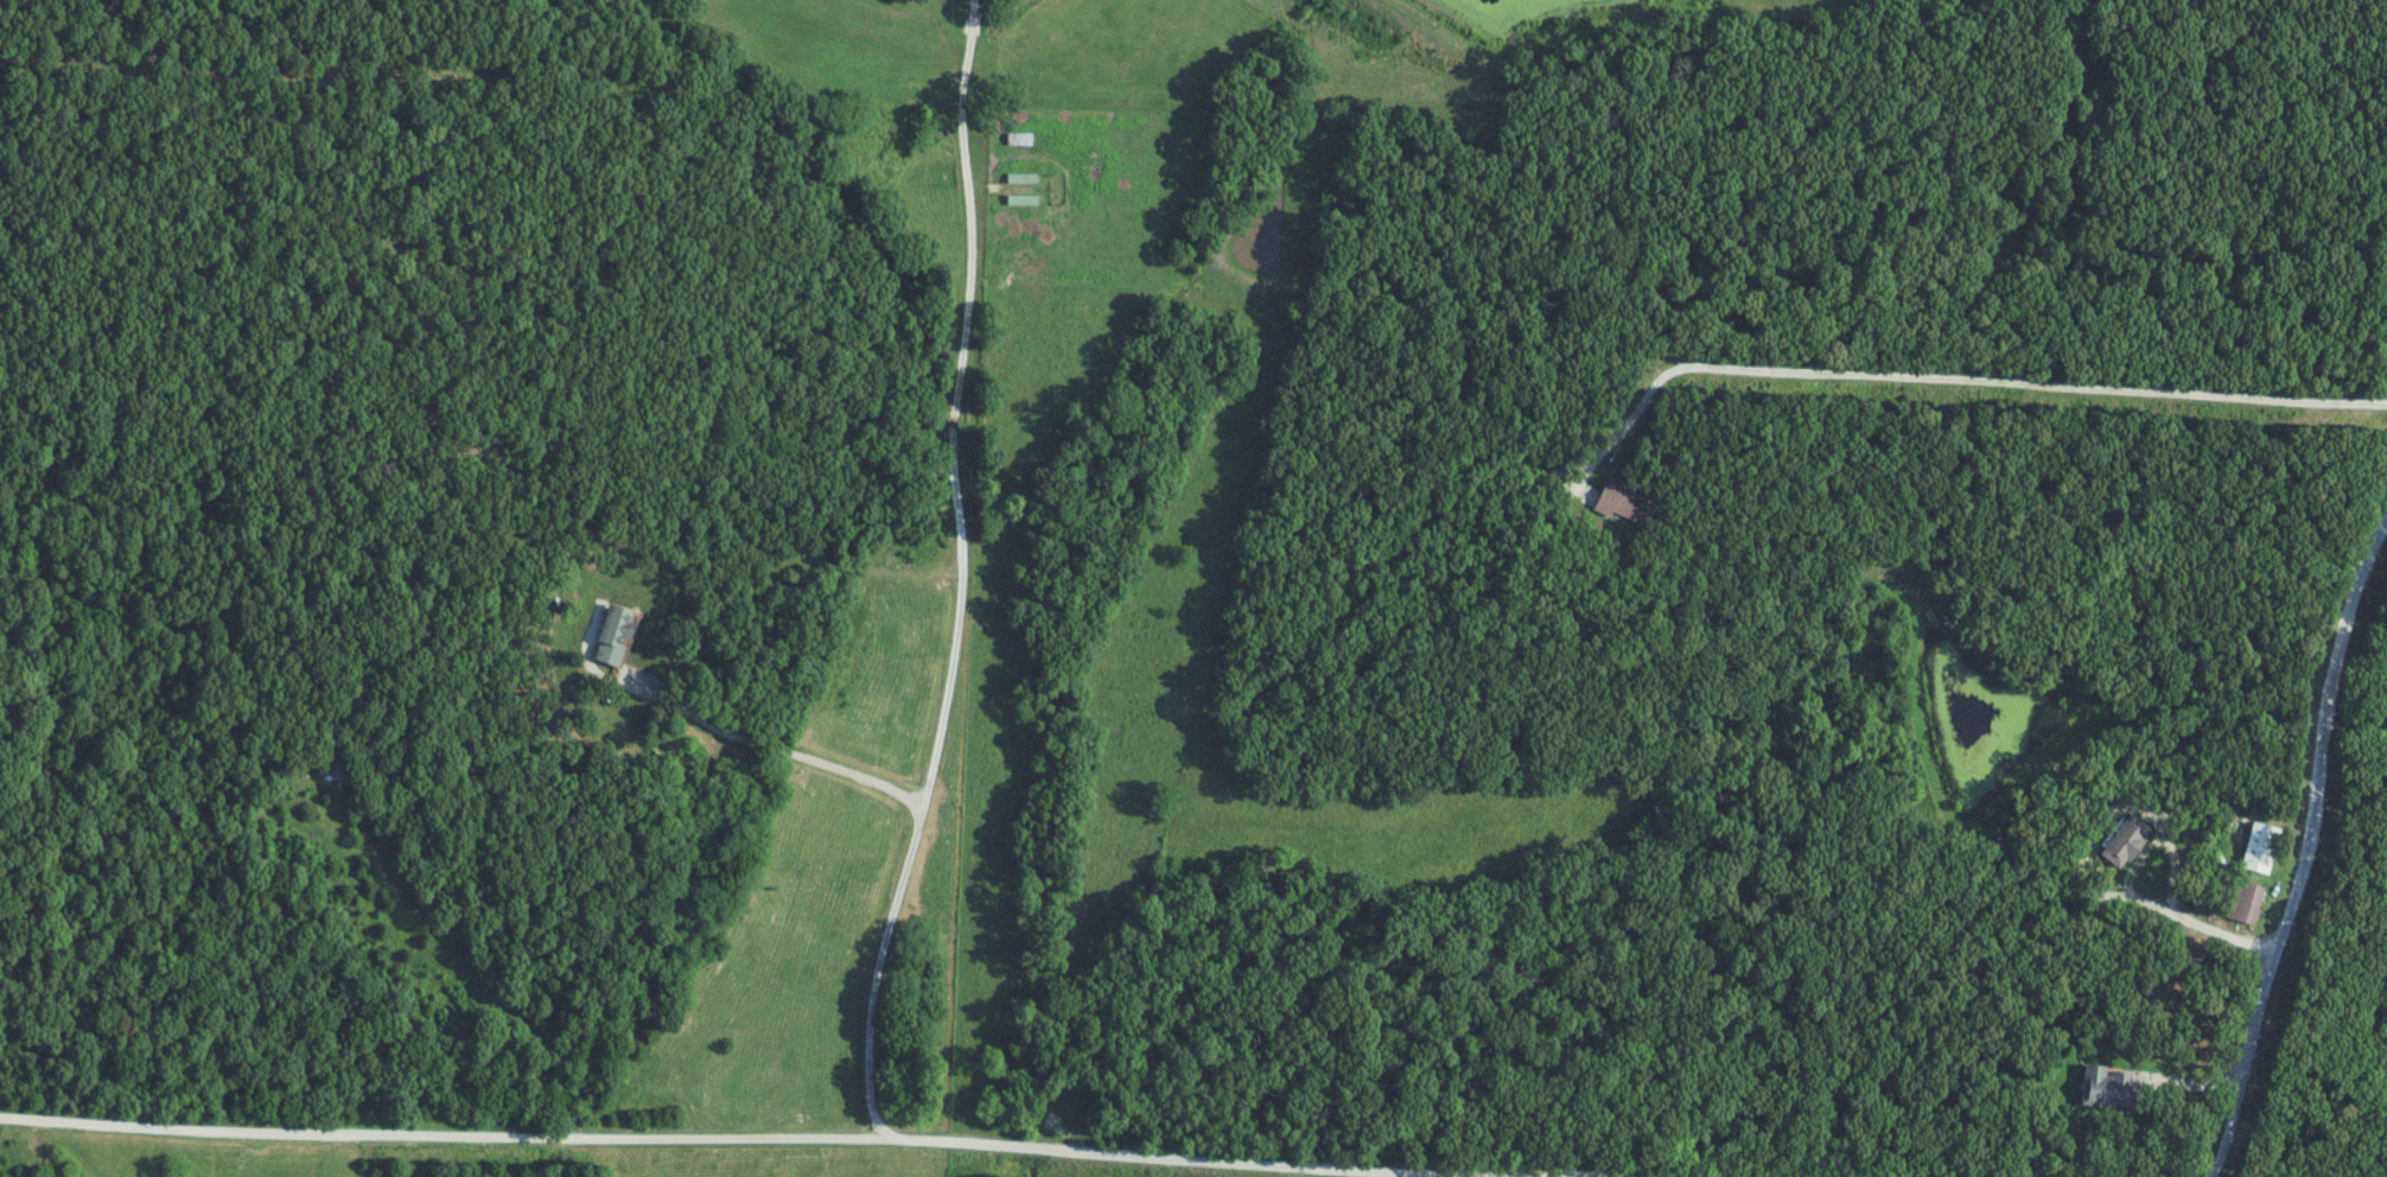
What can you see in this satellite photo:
road: (970, 24)
building: (919, 79)
building: (1019, 139)
building: (1021, 178)
building: (1021, 199)
road: (1954, 380)
building: (1625, 504)
road: (960, 597)
building: (615, 635)
road: (769, 745)
building: (2126, 841)
building: (2260, 848)
road: (2308, 850)
road: (2135, 897)
building: (2247, 903)
building: (2108, 1087)
road: (667, 1137)
road: (1605, 1172)

